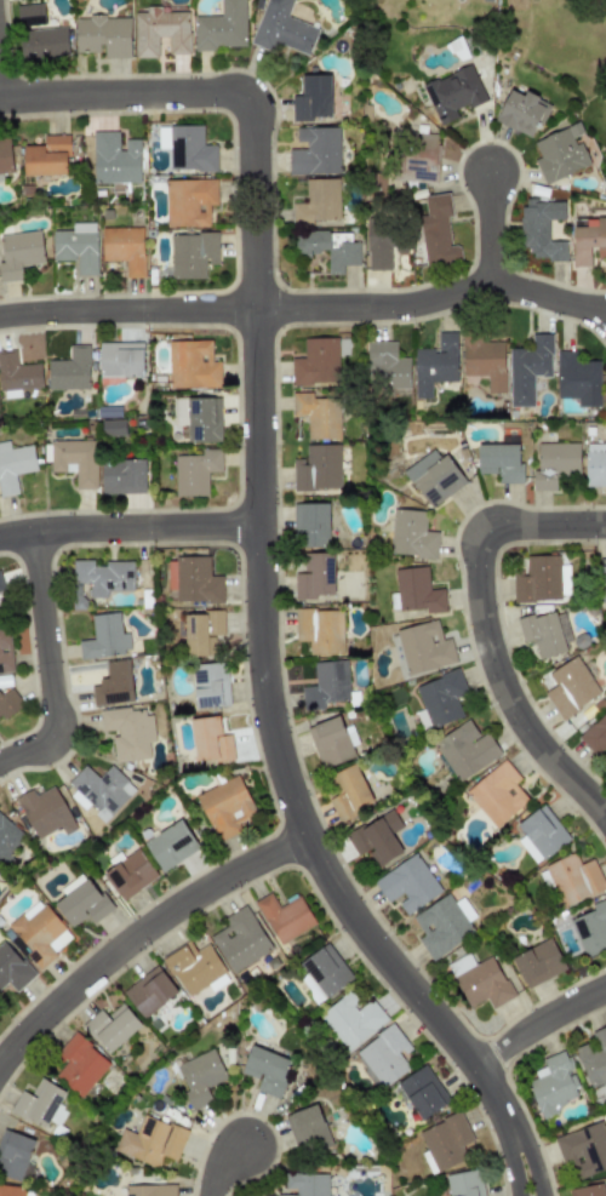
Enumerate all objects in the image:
building: (29, 15)
building: (219, 27)
building: (281, 29)
building: (159, 32)
building: (103, 35)
building: (45, 44)
building: (452, 93)
road: (122, 96)
building: (311, 98)
building: (521, 113)
building: (187, 149)
building: (315, 151)
building: (560, 154)
building: (5, 156)
building: (46, 156)
building: (419, 158)
building: (114, 159)
building: (316, 201)
building: (188, 202)
building: (541, 228)
building: (436, 230)
road: (492, 231)
building: (588, 241)
building: (76, 247)
building: (377, 247)
building: (122, 248)
building: (18, 253)
building: (190, 254)
road: (305, 309)
building: (120, 359)
building: (315, 362)
building: (484, 362)
building: (191, 365)
building: (434, 365)
building: (385, 366)
building: (527, 368)
building: (69, 370)
building: (17, 373)
building: (576, 379)
building: (605, 395)
building: (318, 414)
building: (112, 427)
building: (74, 460)
building: (498, 462)
building: (554, 464)
building: (595, 464)
building: (13, 465)
building: (316, 468)
building: (194, 471)
building: (121, 476)
building: (433, 477)
building: (309, 525)
road: (547, 526)
road: (130, 532)
building: (410, 534)
building: (102, 576)
building: (314, 576)
building: (602, 579)
building: (537, 580)
building: (1, 585)
building: (417, 591)
building: (319, 630)
building: (200, 633)
building: (104, 637)
building: (423, 647)
building: (5, 652)
road: (264, 664)
road: (48, 666)
building: (113, 685)
building: (210, 685)
building: (326, 685)
road: (507, 687)
building: (570, 687)
building: (440, 698)
building: (7, 704)
building: (127, 732)
building: (595, 736)
building: (208, 740)
building: (331, 742)
building: (465, 750)
building: (101, 789)
building: (349, 792)
building: (497, 794)
building: (225, 807)
building: (44, 812)
building: (539, 834)
building: (376, 839)
building: (170, 846)
building: (128, 875)
building: (573, 879)
building: (407, 883)
building: (81, 904)
building: (285, 917)
building: (440, 926)
building: (590, 929)
building: (39, 932)
road: (139, 939)
building: (240, 939)
building: (538, 963)
building: (193, 966)
building: (12, 968)
building: (326, 971)
building: (482, 983)
building: (149, 991)
building: (350, 1020)
building: (110, 1026)
road: (541, 1026)
building: (383, 1057)
building: (594, 1058)
building: (80, 1065)
building: (265, 1070)
building: (200, 1077)
building: (553, 1085)
building: (422, 1092)
building: (39, 1103)
building: (307, 1131)
building: (150, 1141)
building: (446, 1143)
building: (583, 1149)
building: (13, 1154)
road: (222, 1167)
road: (545, 1168)
road: (511, 1173)
building: (305, 1184)
building: (464, 1184)
building: (11, 1190)
building: (149, 1190)
building: (588, 1190)

